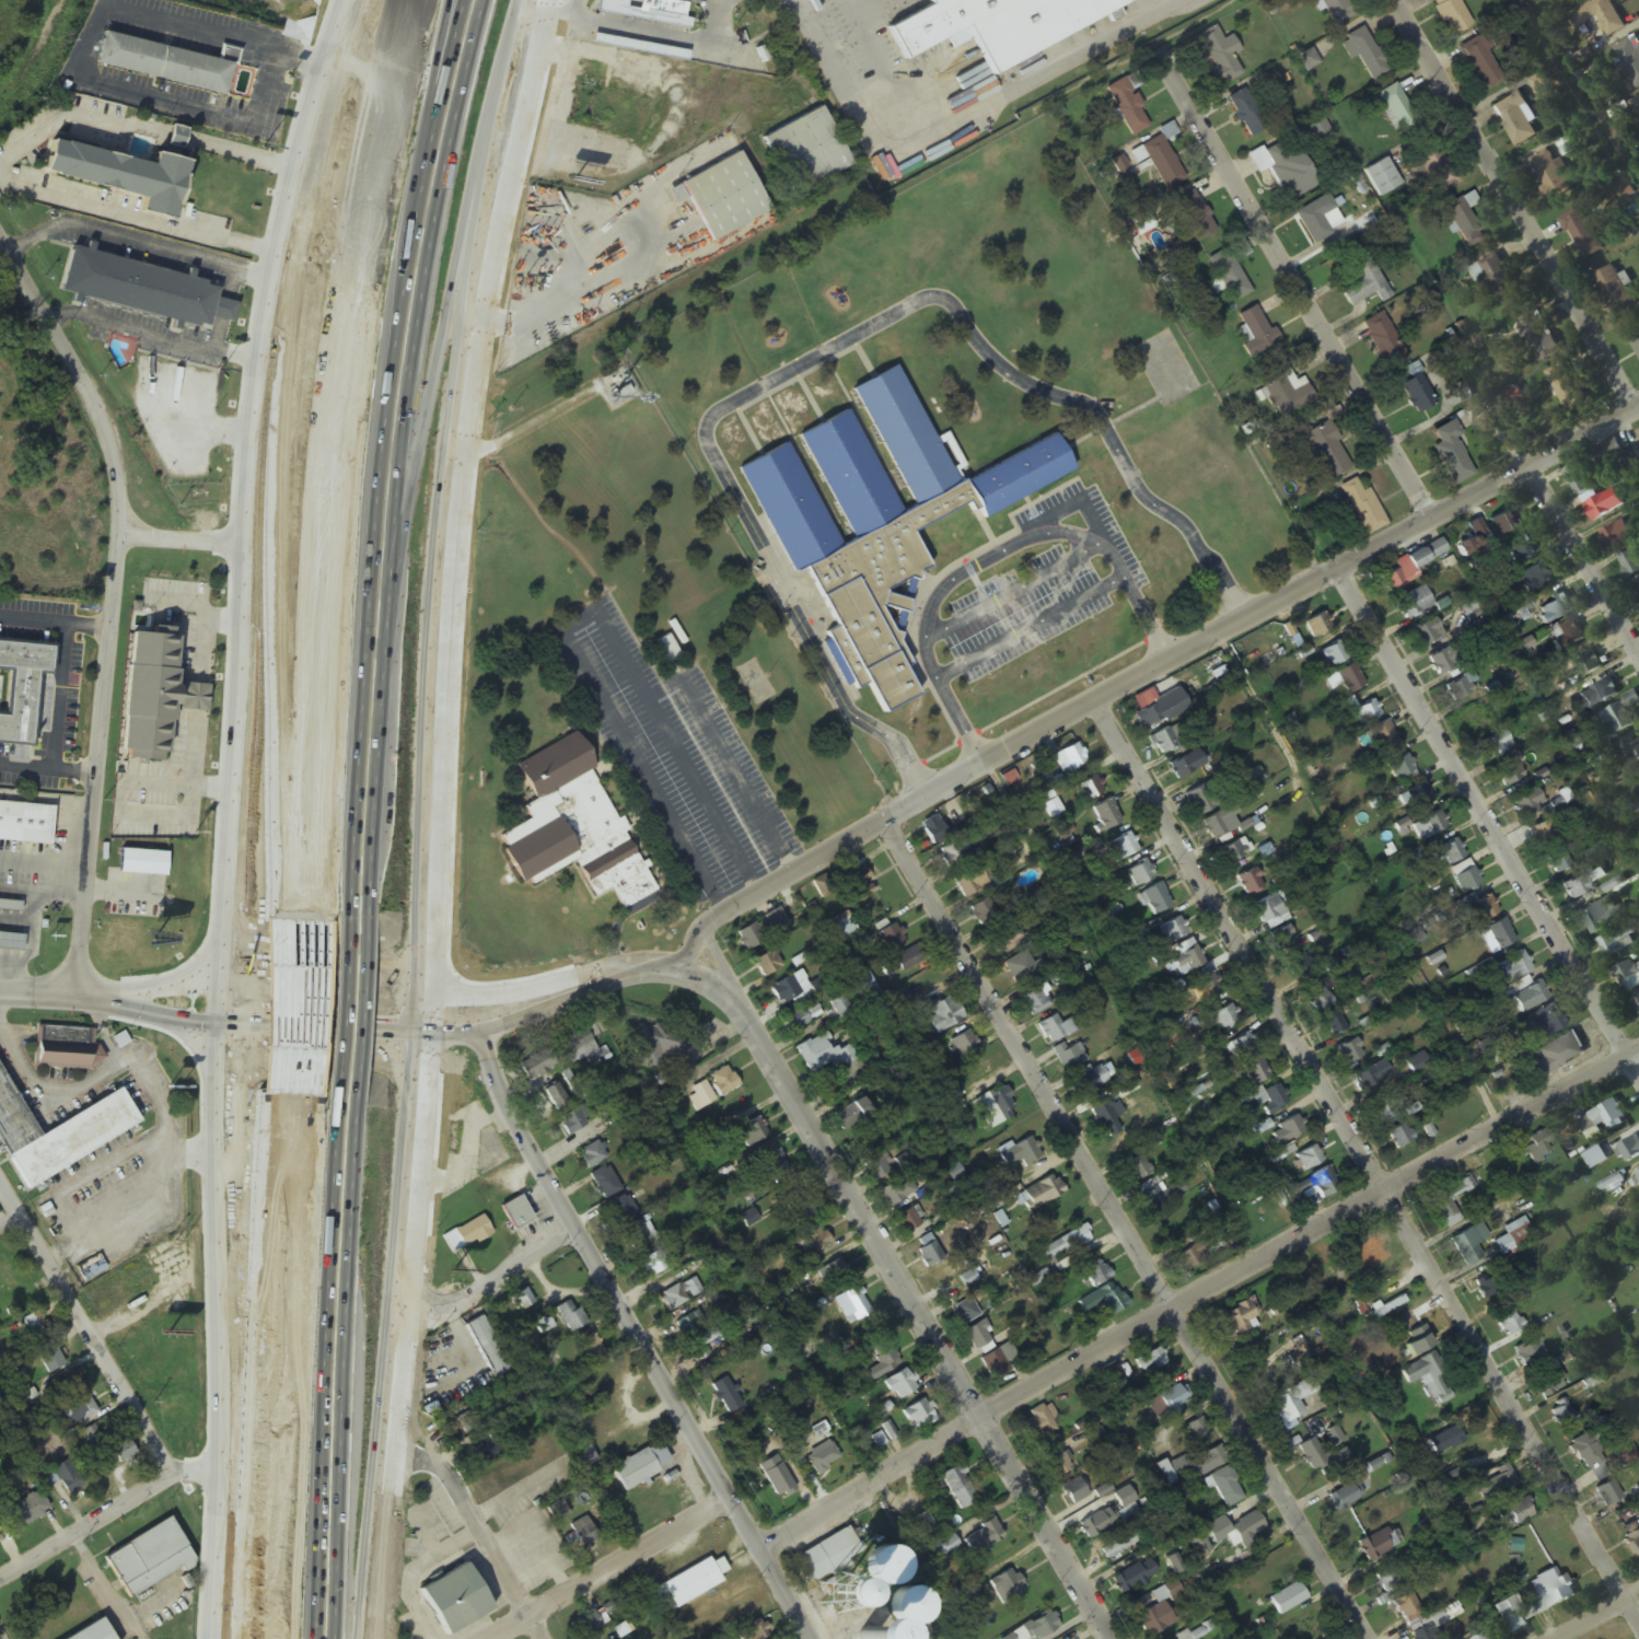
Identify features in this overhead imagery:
building: (1565, 0)
building: (1337, 10)
building: (647, 11)
building: (1453, 16)
building: (1597, 16)
building: (983, 26)
building: (626, 45)
building: (1365, 54)
building: (1219, 55)
building: (1630, 59)
building: (1481, 63)
building: (177, 70)
road: (833, 71)
road: (1026, 82)
building: (1545, 82)
building: (1636, 104)
building: (1395, 106)
building: (1128, 107)
building: (1247, 116)
building: (1515, 119)
building: (806, 152)
building: (1162, 162)
building: (1435, 165)
building: (1289, 174)
building: (1550, 175)
building: (1381, 177)
building: (136, 184)
building: (722, 197)
road: (1519, 205)
building: (1318, 219)
building: (1193, 220)
building: (1466, 222)
building: (1582, 234)
building: (1231, 270)
building: (1362, 280)
building: (1499, 281)
road: (1299, 289)
building: (1613, 291)
building: (151, 292)
building: (1256, 333)
building: (1536, 339)
building: (1635, 340)
building: (1384, 341)
road: (830, 356)
building: (1565, 387)
building: (1288, 394)
building: (1418, 394)
building: (1638, 433)
building: (1328, 451)
road: (439, 452)
building: (1451, 453)
road: (337, 456)
road: (377, 457)
building: (1605, 457)
building: (1578, 479)
road: (272, 503)
building: (1602, 504)
building: (1363, 508)
building: (883, 518)
building: (1498, 525)
building: (1616, 535)
building: (979, 539)
building: (1521, 550)
road: (1585, 558)
building: (1630, 562)
building: (1411, 566)
building: (1534, 579)
building: (1637, 583)
road: (113, 601)
building: (1414, 603)
building: (1556, 607)
building: (1318, 627)
building: (1570, 631)
building: (1428, 632)
building: (664, 646)
building: (1334, 654)
building: (1449, 662)
building: (1589, 664)
road: (1149, 678)
building: (1349, 678)
building: (1460, 689)
building: (1603, 693)
building: (31, 696)
building: (163, 702)
building: (1148, 708)
building: (1365, 713)
building: (1618, 718)
building: (1479, 719)
building: (1383, 737)
building: (1166, 740)
building: (1496, 746)
building: (1629, 756)
building: (1073, 758)
building: (1186, 766)
building: (1399, 768)
building: (1509, 775)
building: (1638, 775)
building: (1089, 789)
building: (1417, 797)
building: (1202, 800)
building: (1527, 804)
road: (225, 813)
building: (1106, 815)
road: (438, 816)
building: (24, 823)
road: (1489, 823)
building: (1219, 824)
building: (1429, 826)
building: (573, 828)
building: (933, 830)
building: (1545, 830)
building: (1120, 849)
building: (1235, 851)
building: (1449, 852)
building: (951, 855)
building: (1558, 862)
building: (1139, 874)
building: (1466, 877)
building: (970, 882)
building: (1249, 883)
building: (1583, 884)
building: (823, 887)
building: (855, 887)
building: (1155, 899)
building: (1481, 911)
building: (983, 913)
building: (1270, 913)
building: (1600, 918)
building: (775, 920)
building: (838, 929)
building: (1173, 930)
building: (1497, 937)
building: (749, 938)
building: (891, 938)
building: (1006, 939)
building: (1282, 939)
building: (10, 942)
building: (1616, 942)
road: (315, 960)
road: (721, 961)
building: (1188, 961)
road: (199, 963)
building: (768, 964)
building: (1300, 966)
building: (1021, 968)
building: (1512, 968)
road: (652, 970)
building: (1628, 977)
road: (446, 980)
building: (1206, 987)
road: (144, 989)
road: (323, 990)
building: (784, 991)
road: (526, 992)
building: (1530, 995)
road: (37, 996)
building: (1035, 999)
building: (1317, 999)
building: (1636, 1002)
road: (364, 1004)
road: (280, 1006)
building: (836, 1006)
road: (300, 1007)
building: (945, 1014)
road: (143, 1015)
road: (347, 1016)
road: (527, 1018)
building: (802, 1018)
building: (1224, 1018)
building: (1545, 1022)
building: (1333, 1024)
road: (321, 1030)
building: (1055, 1030)
building: (964, 1044)
road: (193, 1045)
building: (656, 1046)
building: (1241, 1046)
building: (67, 1048)
building: (1350, 1053)
building: (1557, 1054)
building: (823, 1055)
building: (1070, 1056)
road: (332, 1059)
building: (538, 1065)
building: (1255, 1070)
building: (1372, 1077)
building: (723, 1082)
building: (1084, 1082)
building: (701, 1096)
building: (556, 1099)
building: (1270, 1100)
building: (996, 1107)
building: (1386, 1107)
building: (852, 1115)
building: (1107, 1118)
building: (1604, 1119)
building: (576, 1121)
building: (1288, 1131)
building: (753, 1132)
building: (63, 1135)
building: (1399, 1137)
building: (1541, 1143)
building: (1628, 1151)
road: (344, 1152)
building: (1022, 1154)
building: (592, 1155)
road: (339, 1158)
building: (1309, 1159)
building: (1595, 1159)
building: (876, 1164)
road: (1370, 1164)
building: (772, 1166)
building: (1137, 1170)
building: (1637, 1177)
building: (605, 1183)
road: (845, 1185)
building: (1312, 1188)
building: (1043, 1193)
road: (280, 1194)
building: (892, 1195)
building: (1161, 1196)
building: (798, 1207)
building: (1443, 1208)
building: (623, 1211)
building: (515, 1214)
road: (9, 1221)
building: (911, 1224)
road: (1123, 1232)
building: (467, 1235)
building: (635, 1237)
building: (1513, 1237)
building: (816, 1242)
building: (1469, 1244)
building: (1067, 1245)
building: (929, 1252)
building: (1194, 1257)
building: (653, 1265)
building: (1094, 1270)
building: (834, 1274)
building: (8, 1280)
road: (496, 1280)
building: (1492, 1286)
road: (1194, 1292)
building: (675, 1298)
building: (1104, 1302)
building: (852, 1305)
building: (966, 1313)
building: (1240, 1316)
building: (1509, 1323)
road: (628, 1324)
building: (543, 1325)
building: (690, 1325)
building: (35, 1327)
road: (85, 1332)
building: (978, 1336)
building: (701, 1346)
building: (487, 1348)
building: (591, 1348)
building: (1530, 1353)
building: (48, 1358)
building: (1302, 1360)
building: (998, 1362)
building: (1151, 1362)
building: (883, 1363)
road: (278, 1367)
building: (1112, 1375)
building: (1430, 1379)
building: (66, 1384)
building: (1548, 1384)
building: (899, 1385)
road: (328, 1391)
building: (726, 1396)
building: (1174, 1399)
building: (1292, 1402)
building: (79, 1411)
building: (1562, 1414)
building: (918, 1416)
building: (1037, 1425)
building: (1195, 1429)
building: (884, 1435)
building: (1333, 1439)
building: (123, 1451)
building: (1588, 1452)
building: (1321, 1456)
building: (584, 1457)
building: (823, 1457)
building: (1060, 1463)
building: (1193, 1466)
building: (633, 1472)
building: (1599, 1475)
building: (68, 1477)
building: (776, 1477)
building: (1503, 1480)
building: (1227, 1486)
building: (958, 1487)
building: (1074, 1491)
building: (1608, 1495)
building: (1346, 1496)
building: (1125, 1503)
building: (27, 1510)
building: (1515, 1514)
road: (105, 1516)
building: (1095, 1525)
building: (920, 1527)
road: (1049, 1527)
building: (1218, 1530)
building: (1247, 1531)
road: (480, 1533)
building: (581, 1534)
building: (984, 1537)
building: (1632, 1538)
building: (1382, 1542)
building: (1119, 1545)
building: (1199, 1545)
building: (1509, 1549)
building: (148, 1558)
building: (828, 1565)
building: (884, 1565)
road: (611, 1570)
building: (1129, 1579)
building: (1388, 1581)
building: (688, 1584)
building: (1007, 1585)
building: (1550, 1590)
building: (453, 1599)
water tower: (841, 1599)
building: (1287, 1599)
building: (908, 1604)
road: (317, 1607)
building: (1408, 1609)
road: (1594, 1614)
building: (1511, 1615)
building: (847, 1619)
building: (1155, 1619)
building: (589, 1624)
building: (1043, 1626)
building: (92, 1631)
building: (753, 1631)
building: (1425, 1632)
building: (1019, 1635)
building: (1485, 1637)

